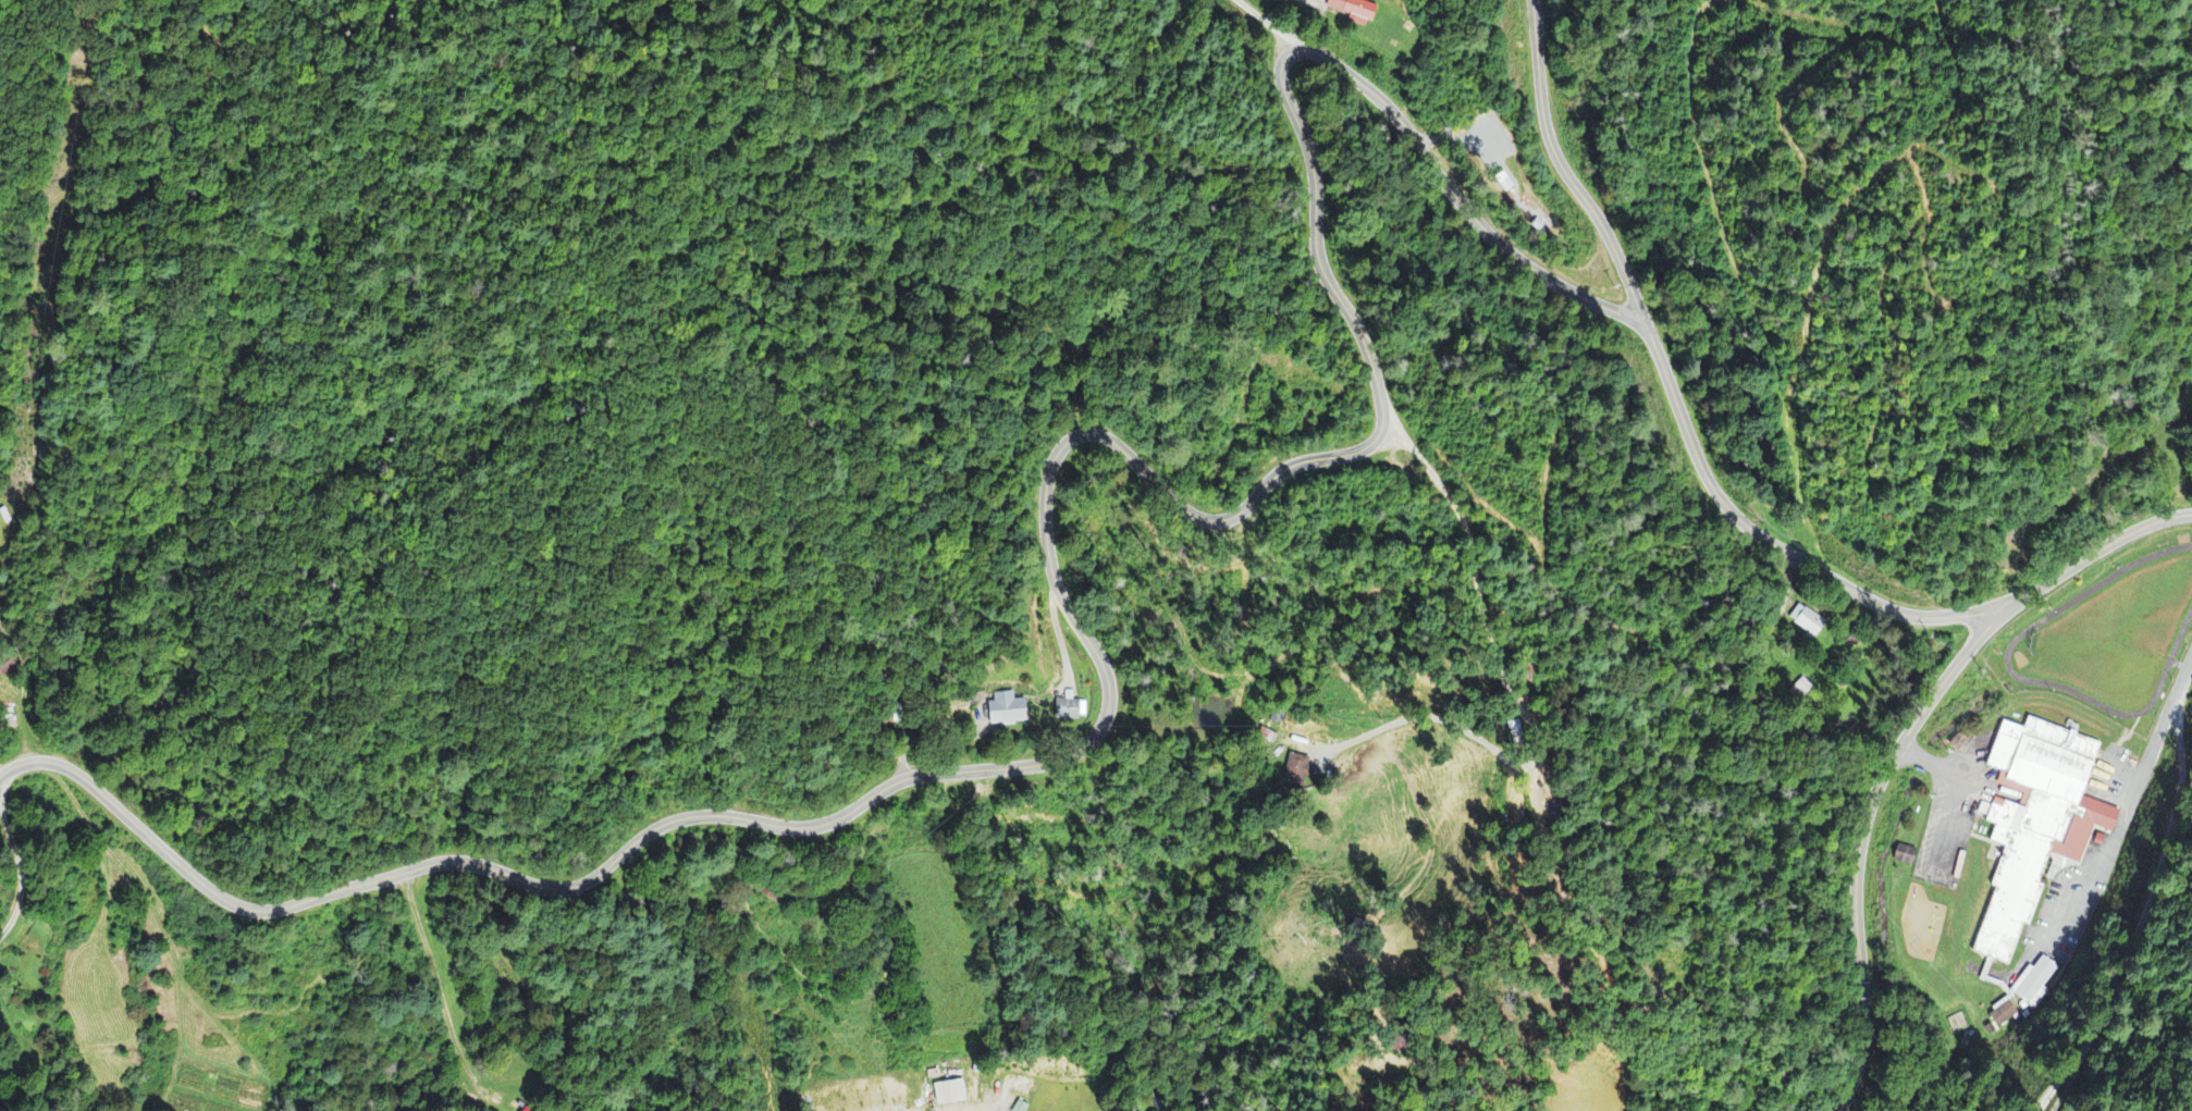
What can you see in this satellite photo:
building: (1355, 11)
road: (1267, 24)
road: (1562, 168)
road: (1156, 485)
building: (1807, 622)
building: (1009, 712)
building: (1070, 713)
road: (2170, 724)
road: (2184, 732)
road: (1904, 744)
building: (1297, 771)
building: (2037, 824)
road: (15, 853)
building: (1908, 857)
road: (2117, 952)
building: (2036, 984)
road: (490, 1009)
building: (2006, 1016)
building: (951, 1096)
building: (528, 1110)

